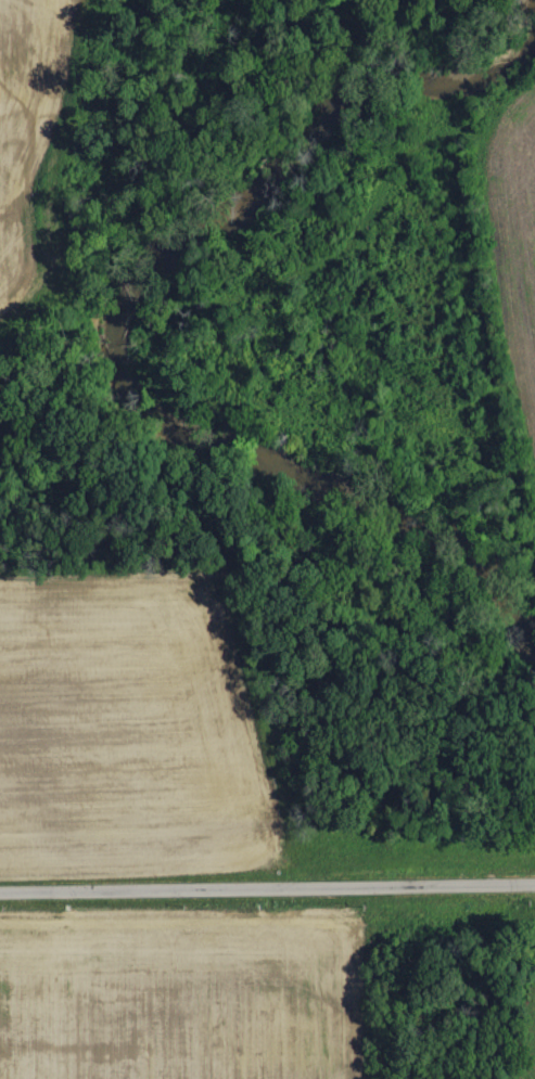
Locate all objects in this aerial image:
road: (267, 886)

